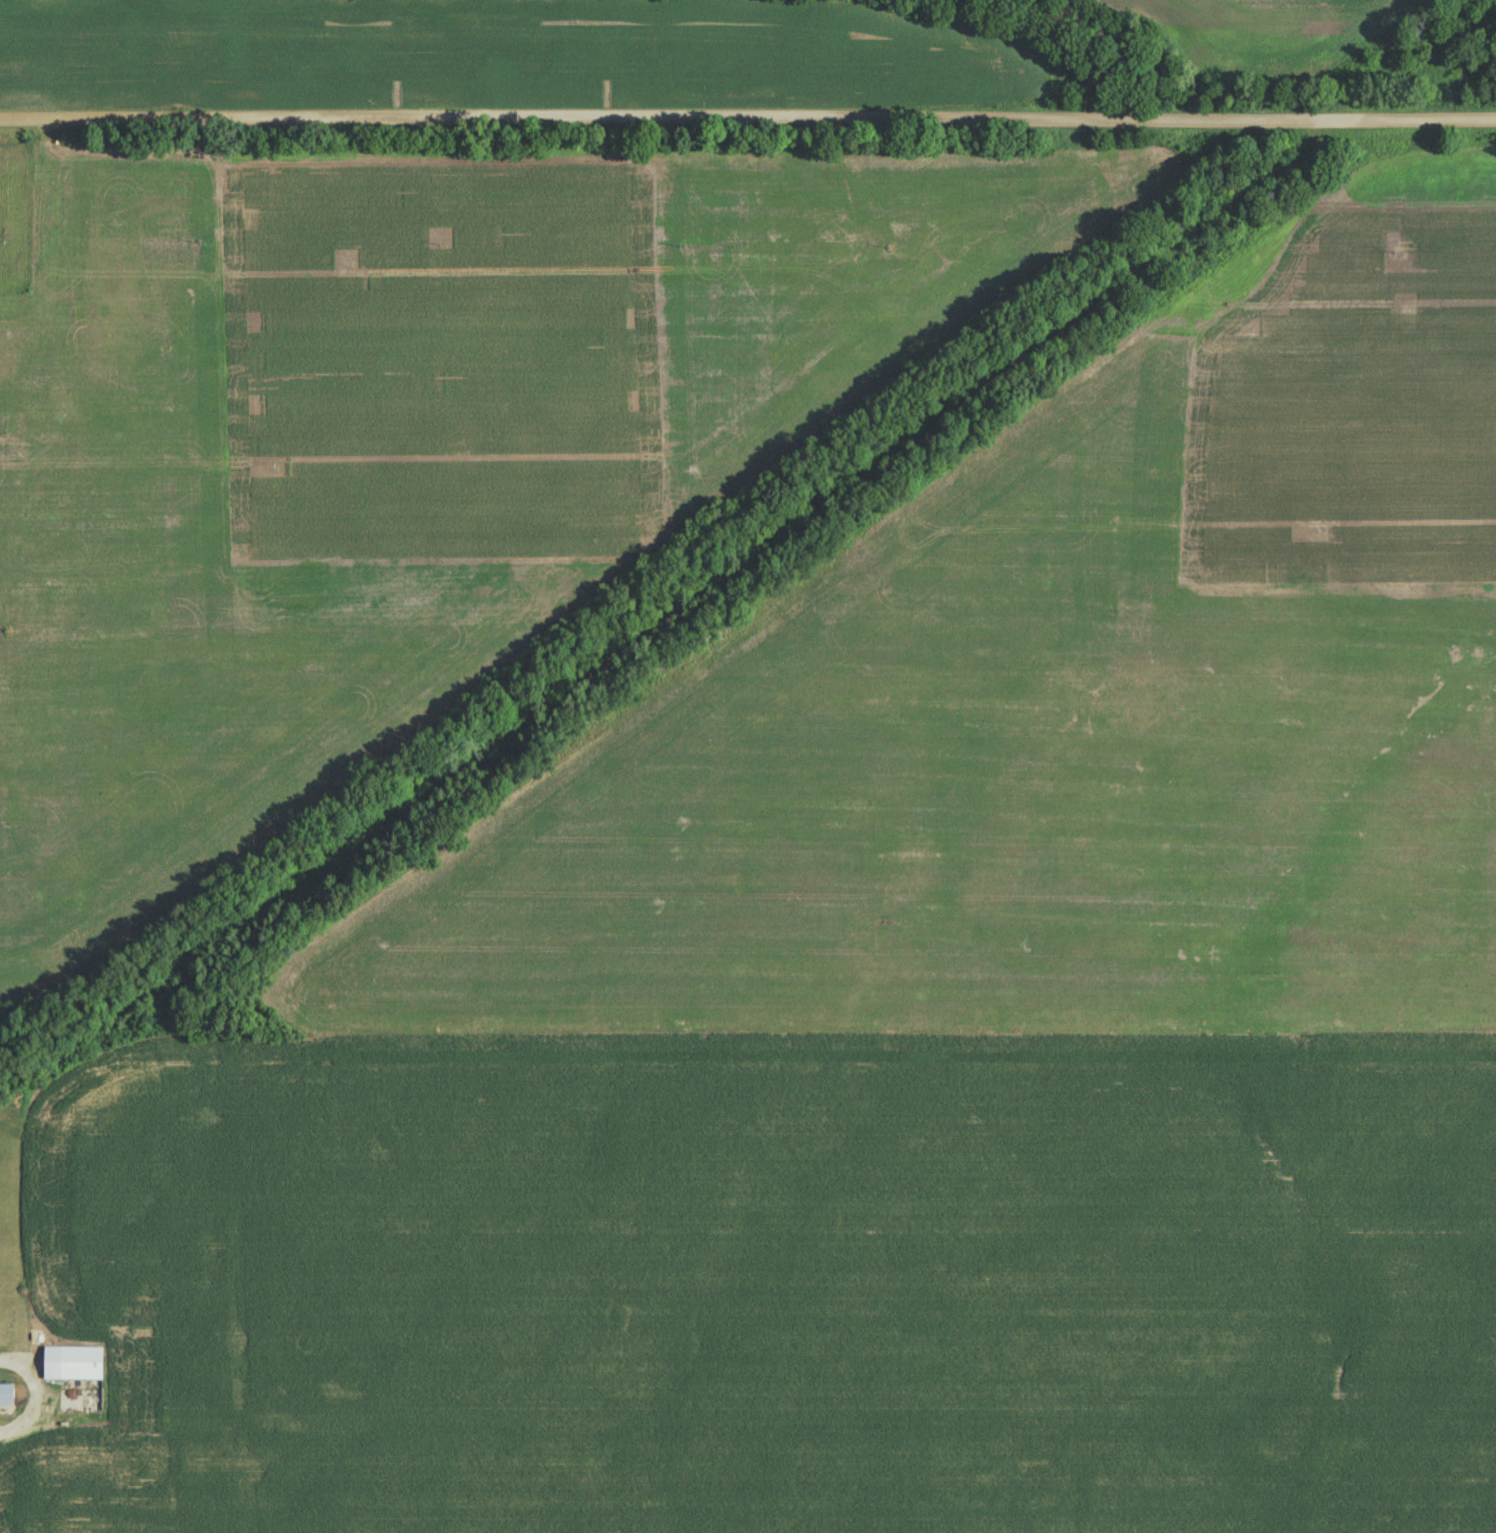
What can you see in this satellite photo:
road: (748, 122)
building: (73, 1365)
building: (6, 1397)

